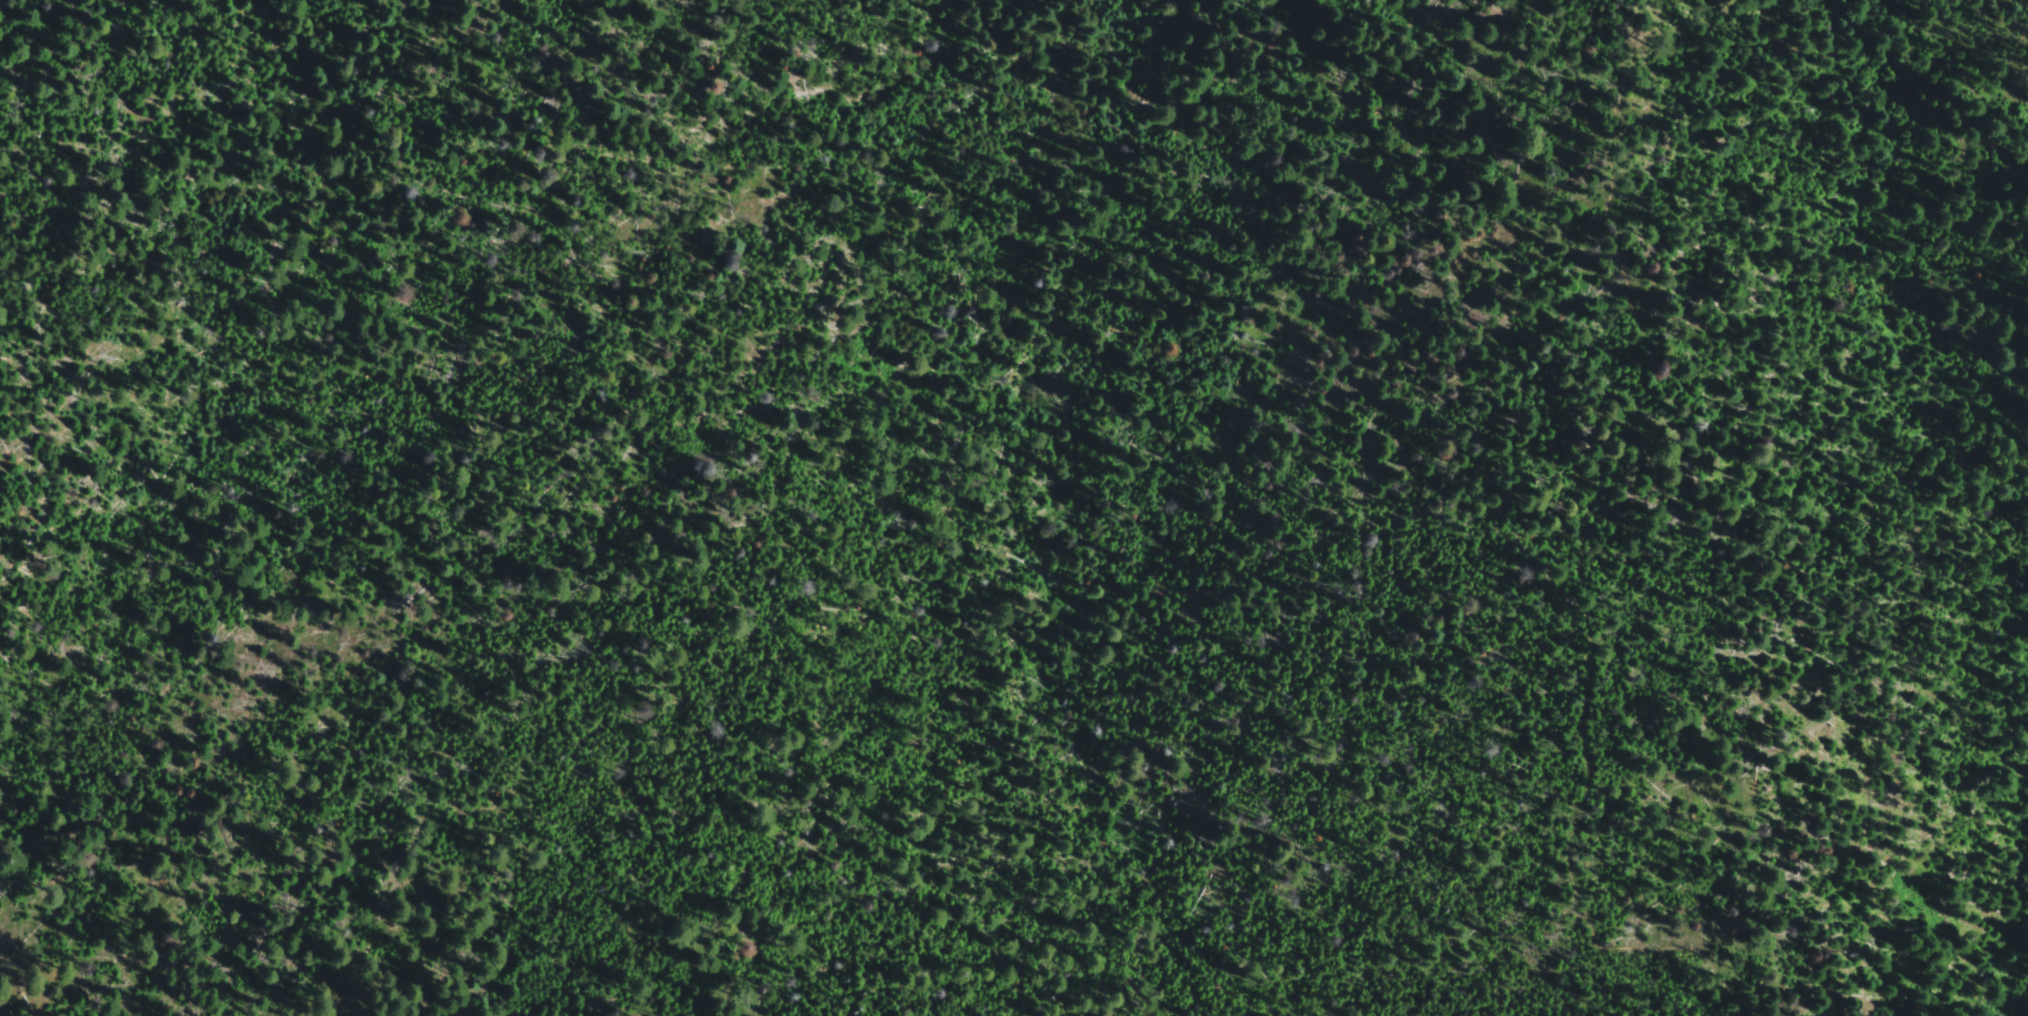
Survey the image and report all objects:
road: (1598, 573)

